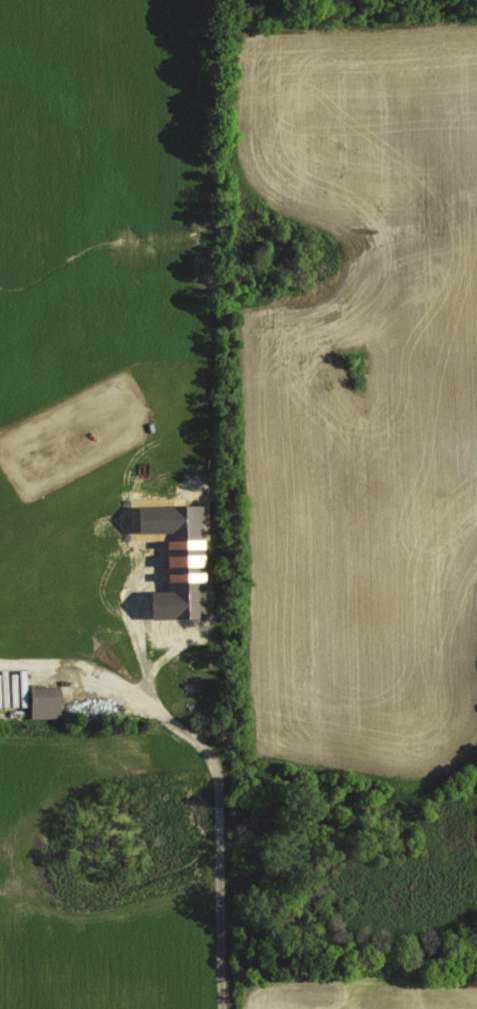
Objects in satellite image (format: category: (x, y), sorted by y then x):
building: (40, 699)

